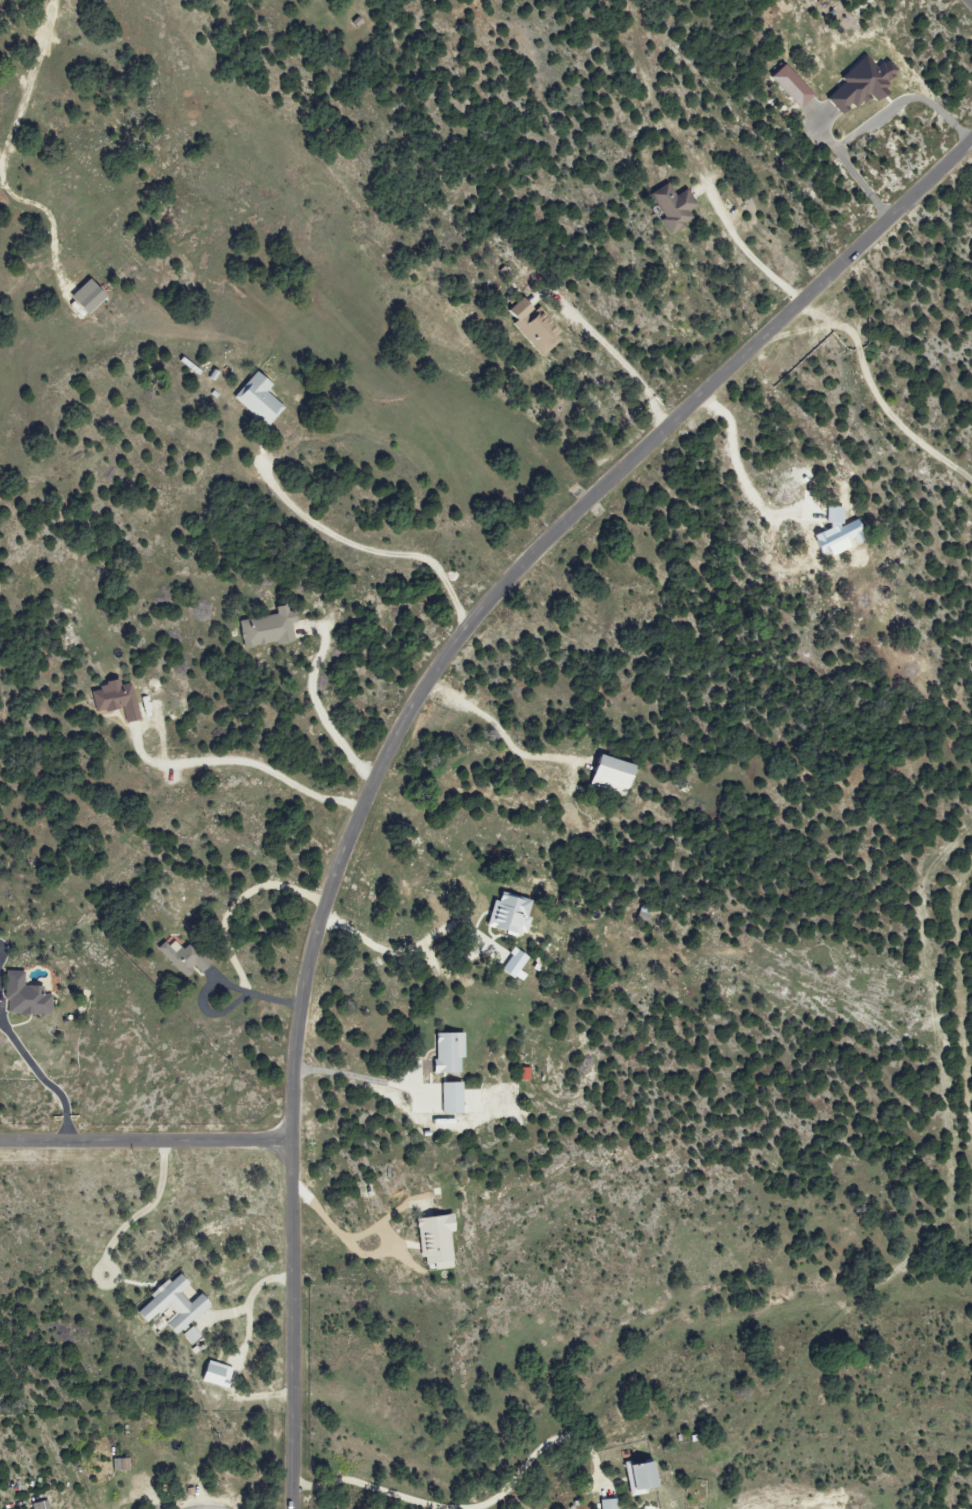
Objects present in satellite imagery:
road: (969, 2)
building: (859, 83)
building: (788, 86)
road: (871, 120)
building: (670, 208)
road: (751, 251)
building: (84, 297)
building: (532, 326)
road: (624, 366)
road: (877, 392)
building: (256, 399)
building: (836, 533)
road: (361, 550)
building: (265, 628)
building: (114, 699)
road: (320, 704)
road: (407, 719)
road: (500, 733)
road: (243, 761)
building: (607, 774)
building: (507, 914)
road: (398, 952)
building: (182, 956)
building: (513, 965)
road: (255, 989)
building: (27, 997)
building: (446, 1053)
road: (360, 1072)
road: (42, 1078)
building: (449, 1098)
road: (145, 1143)
road: (139, 1210)
road: (328, 1215)
building: (433, 1240)
building: (177, 1304)
building: (193, 1335)
road: (243, 1348)
building: (220, 1374)
road: (530, 1462)
building: (123, 1464)
building: (636, 1477)
road: (367, 1486)
building: (606, 1503)
building: (40, 1505)

